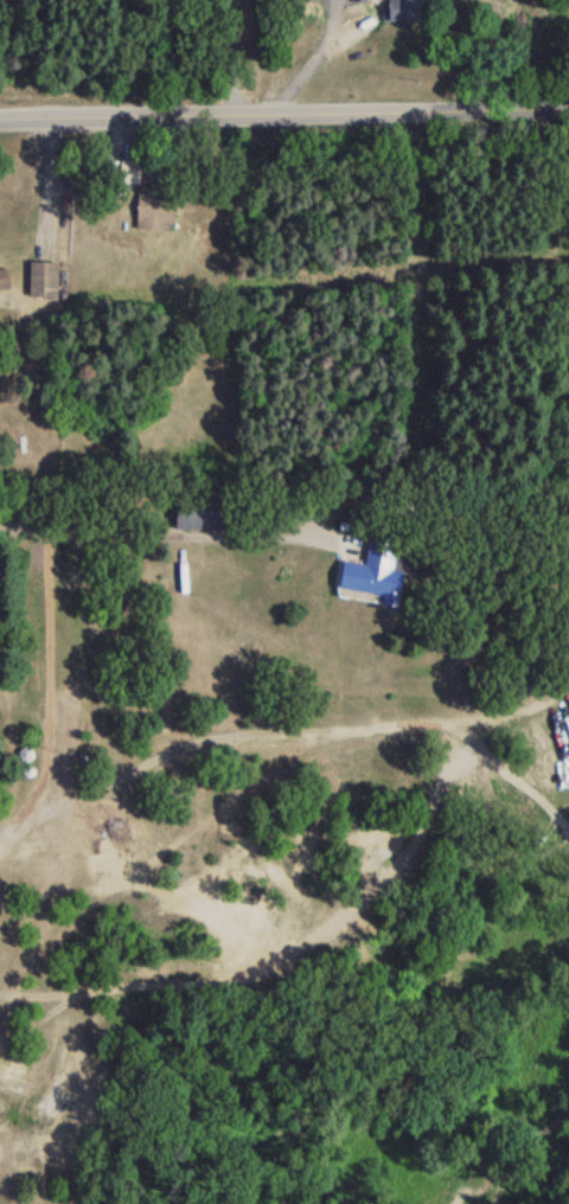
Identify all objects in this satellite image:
building: (344, 0)
building: (402, 14)
road: (287, 39)
road: (311, 49)
road: (228, 58)
road: (267, 100)
road: (283, 115)
building: (127, 178)
road: (46, 182)
building: (151, 216)
building: (40, 284)
building: (2, 286)
building: (198, 519)
road: (152, 536)
road: (46, 696)
road: (281, 737)
road: (1, 841)

